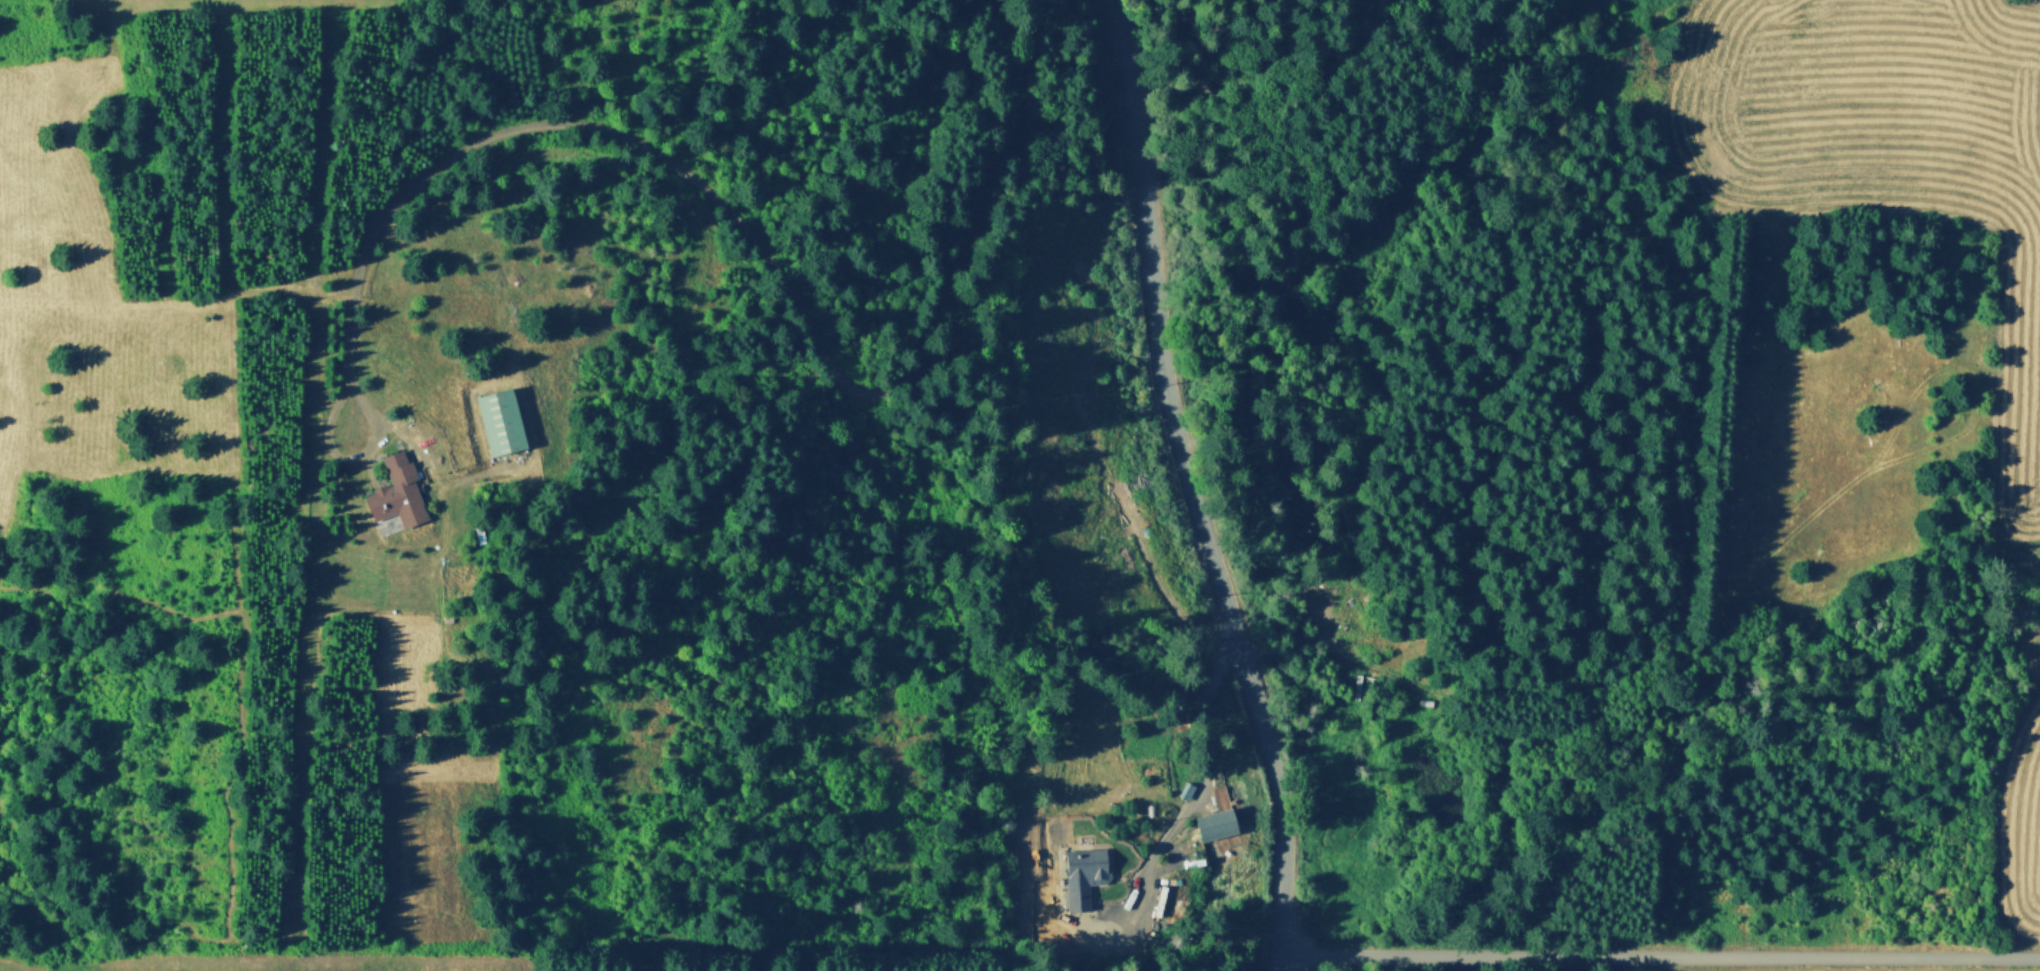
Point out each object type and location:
crop: (214, 5)
road: (763, 248)
road: (243, 286)
building: (501, 417)
crop: (1997, 427)
road: (406, 429)
road: (350, 451)
road: (540, 474)
road: (1193, 488)
building: (398, 489)
building: (1307, 627)
building: (1351, 633)
building: (1356, 687)
building: (1429, 701)
building: (1182, 790)
road: (1184, 806)
building: (1209, 822)
building: (1078, 874)
road: (1658, 955)
crop: (304, 963)

